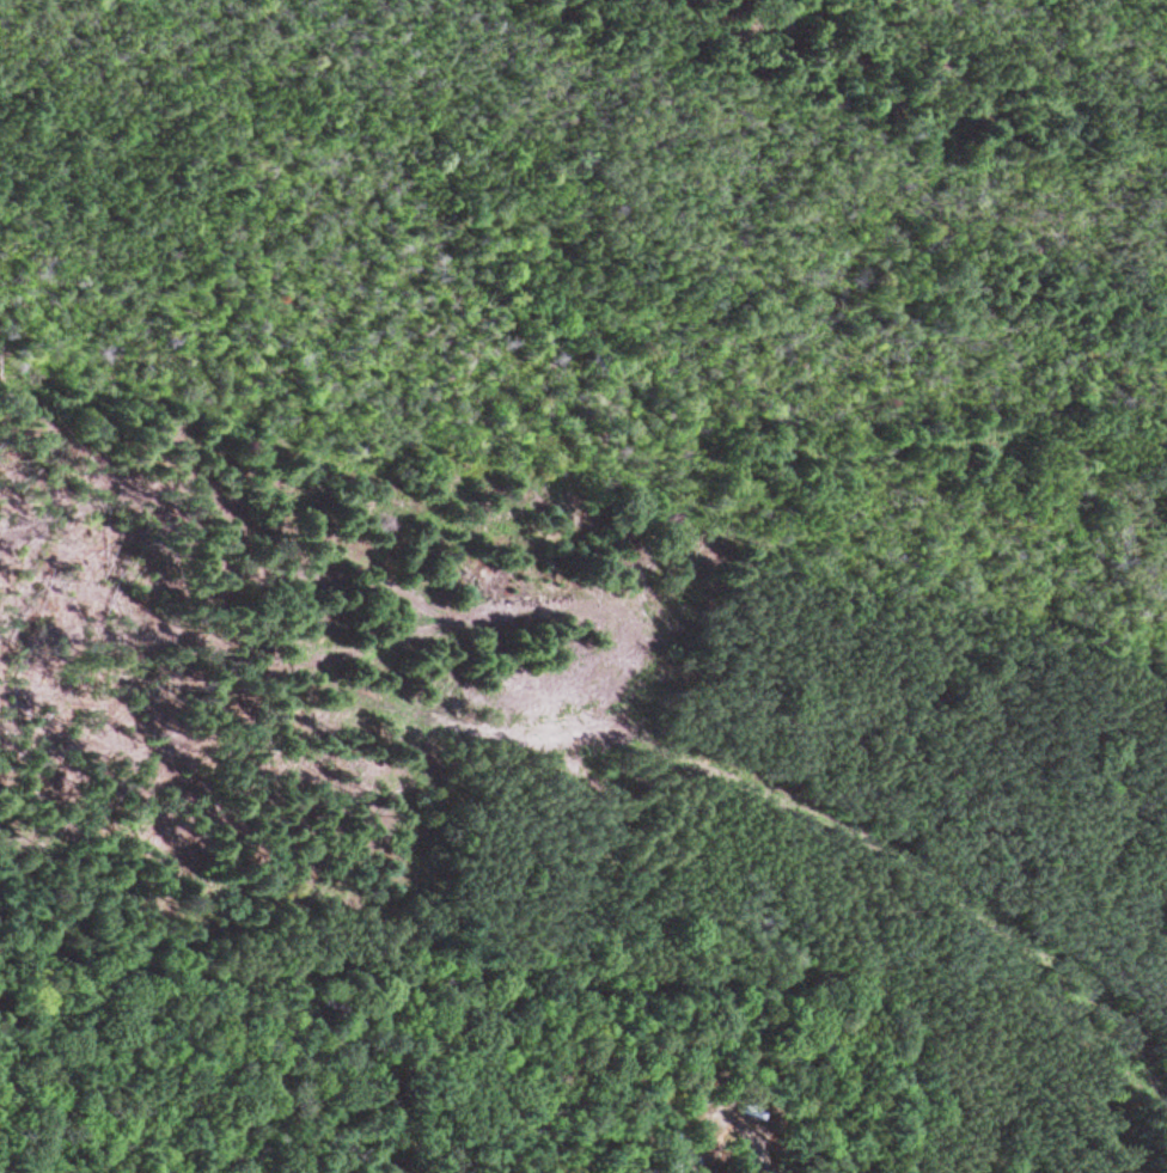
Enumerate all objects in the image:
road: (94, 1117)

